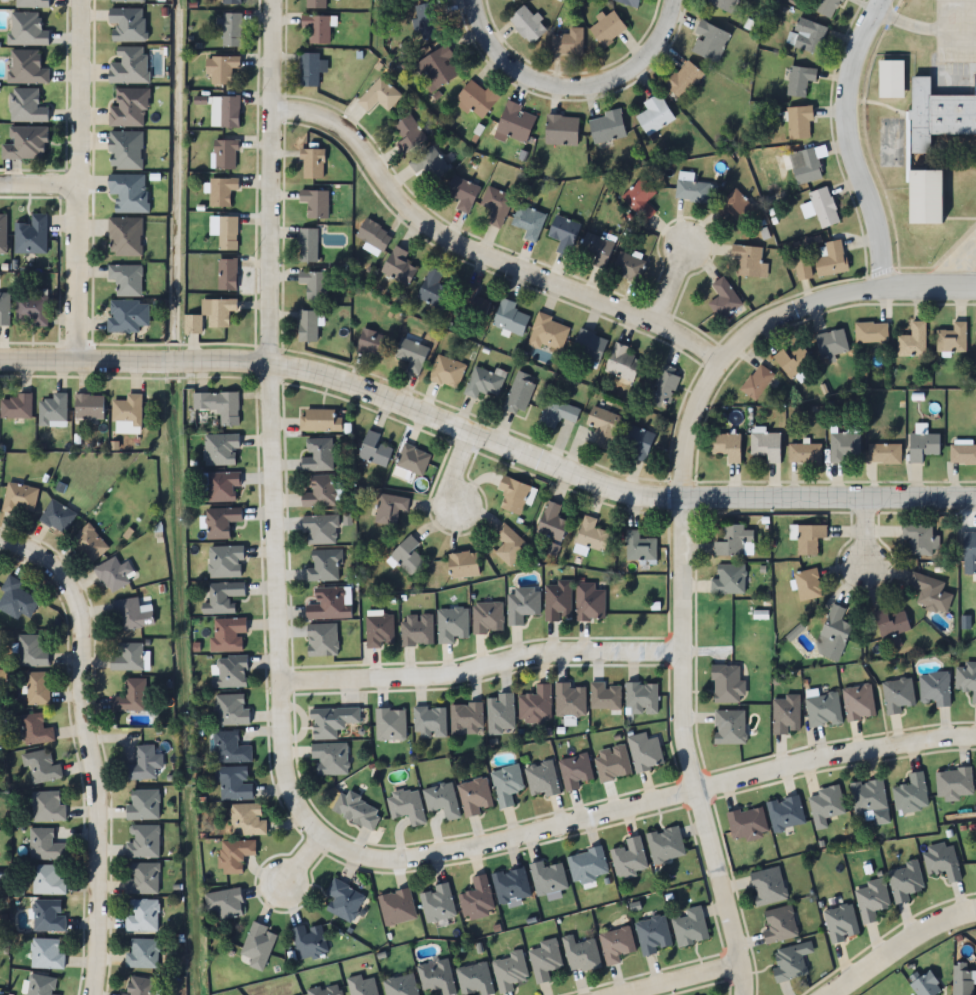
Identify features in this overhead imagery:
building: (126, 1)
building: (230, 2)
building: (630, 2)
road: (960, 3)
building: (31, 4)
building: (315, 4)
building: (724, 5)
building: (827, 8)
building: (427, 21)
road: (944, 22)
road: (908, 23)
building: (127, 24)
building: (527, 25)
building: (607, 28)
building: (317, 29)
building: (26, 30)
building: (231, 31)
building: (809, 36)
building: (567, 42)
building: (710, 42)
road: (960, 42)
parking lot: (955, 44)
building: (128, 66)
building: (26, 68)
building: (220, 69)
building: (311, 69)
building: (436, 69)
road: (945, 74)
building: (892, 79)
building: (682, 80)
building: (799, 80)
road: (575, 86)
road: (78, 91)
building: (379, 96)
building: (476, 99)
building: (26, 107)
building: (128, 108)
building: (229, 113)
building: (939, 114)
building: (654, 115)
building: (514, 123)
building: (799, 123)
building: (607, 126)
building: (561, 130)
building: (408, 135)
road: (850, 142)
building: (25, 144)
building: (125, 151)
building: (224, 155)
building: (313, 164)
building: (428, 164)
building: (807, 164)
road: (39, 183)
building: (693, 191)
building: (221, 192)
building: (128, 193)
building: (462, 193)
building: (925, 196)
building: (640, 199)
building: (314, 203)
building: (496, 205)
building: (736, 207)
building: (822, 207)
building: (528, 221)
building: (225, 232)
building: (374, 234)
building: (564, 234)
building: (3, 235)
building: (31, 236)
building: (124, 236)
building: (308, 244)
building: (596, 248)
road: (478, 249)
building: (831, 258)
building: (748, 260)
building: (398, 266)
building: (629, 267)
road: (960, 267)
building: (803, 268)
building: (227, 274)
road: (76, 277)
building: (126, 279)
building: (315, 284)
road: (670, 284)
building: (433, 289)
building: (723, 299)
building: (472, 303)
building: (4, 308)
building: (31, 310)
building: (127, 315)
building: (210, 315)
building: (509, 317)
building: (307, 325)
building: (871, 332)
building: (548, 333)
building: (951, 339)
building: (912, 341)
building: (371, 343)
building: (831, 344)
building: (588, 346)
building: (411, 354)
building: (792, 361)
building: (622, 363)
building: (447, 372)
building: (484, 381)
building: (757, 382)
building: (664, 387)
building: (519, 394)
building: (218, 405)
building: (15, 406)
building: (89, 406)
building: (52, 409)
building: (127, 409)
building: (557, 413)
building: (320, 420)
building: (603, 426)
building: (636, 441)
building: (726, 446)
building: (765, 446)
building: (843, 446)
building: (922, 446)
road: (487, 447)
building: (221, 449)
building: (373, 449)
building: (804, 453)
building: (884, 453)
building: (318, 454)
building: (963, 454)
building: (413, 460)
road: (453, 474)
building: (222, 485)
building: (320, 491)
building: (513, 495)
building: (19, 499)
building: (390, 508)
building: (57, 516)
building: (221, 522)
building: (551, 522)
building: (320, 529)
road: (863, 531)
building: (588, 537)
road: (683, 537)
building: (809, 538)
building: (918, 539)
building: (734, 542)
building: (88, 544)
building: (508, 544)
building: (639, 547)
building: (969, 553)
building: (407, 555)
building: (226, 562)
building: (463, 564)
building: (324, 566)
building: (112, 575)
building: (728, 580)
building: (807, 585)
building: (930, 592)
building: (223, 597)
building: (16, 599)
building: (557, 600)
building: (588, 603)
building: (330, 604)
building: (521, 604)
building: (131, 615)
building: (487, 617)
building: (451, 624)
building: (891, 628)
building: (379, 630)
building: (416, 630)
building: (834, 633)
building: (227, 635)
building: (322, 639)
building: (31, 651)
building: (127, 657)
building: (230, 671)
road: (480, 672)
building: (966, 678)
building: (727, 684)
building: (37, 688)
building: (935, 688)
building: (897, 695)
building: (130, 696)
building: (605, 696)
building: (641, 698)
building: (569, 699)
building: (858, 702)
building: (536, 704)
building: (230, 710)
building: (823, 710)
building: (500, 713)
building: (785, 714)
building: (466, 718)
building: (331, 721)
building: (430, 722)
building: (390, 724)
building: (729, 726)
building: (35, 729)
building: (229, 748)
road: (85, 749)
building: (644, 752)
building: (329, 759)
road: (280, 761)
building: (612, 763)
building: (143, 764)
building: (41, 766)
building: (575, 770)
building: (541, 779)
building: (233, 782)
building: (954, 783)
building: (506, 785)
building: (911, 794)
building: (474, 796)
building: (441, 800)
building: (870, 800)
building: (142, 805)
building: (825, 805)
building: (47, 807)
building: (406, 807)
building: (356, 810)
building: (785, 813)
building: (246, 820)
building: (747, 823)
building: (142, 841)
building: (44, 845)
building: (665, 845)
building: (235, 855)
building: (629, 858)
road: (297, 861)
building: (942, 861)
building: (587, 865)
building: (142, 878)
building: (548, 878)
building: (47, 880)
building: (904, 881)
building: (511, 885)
building: (767, 886)
building: (477, 899)
building: (872, 899)
building: (343, 900)
building: (437, 903)
building: (224, 904)
building: (396, 907)
building: (48, 915)
building: (142, 915)
building: (841, 923)
building: (779, 925)
building: (689, 926)
building: (652, 935)
building: (309, 942)
road: (898, 942)
building: (615, 944)
building: (258, 945)
building: (46, 953)
building: (142, 954)
building: (581, 955)
building: (545, 960)
building: (790, 962)
building: (509, 971)
building: (436, 976)
building: (964, 978)
building: (474, 979)
road: (673, 979)
building: (41, 985)
building: (401, 985)
building: (926, 985)
building: (139, 986)
building: (362, 986)
building: (325, 990)

